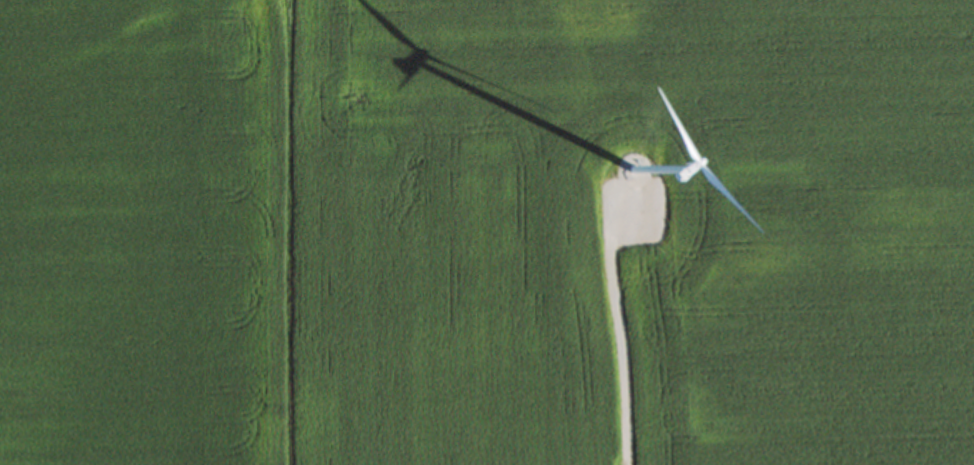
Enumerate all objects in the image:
wind turbine: (631, 175)
road: (614, 328)

